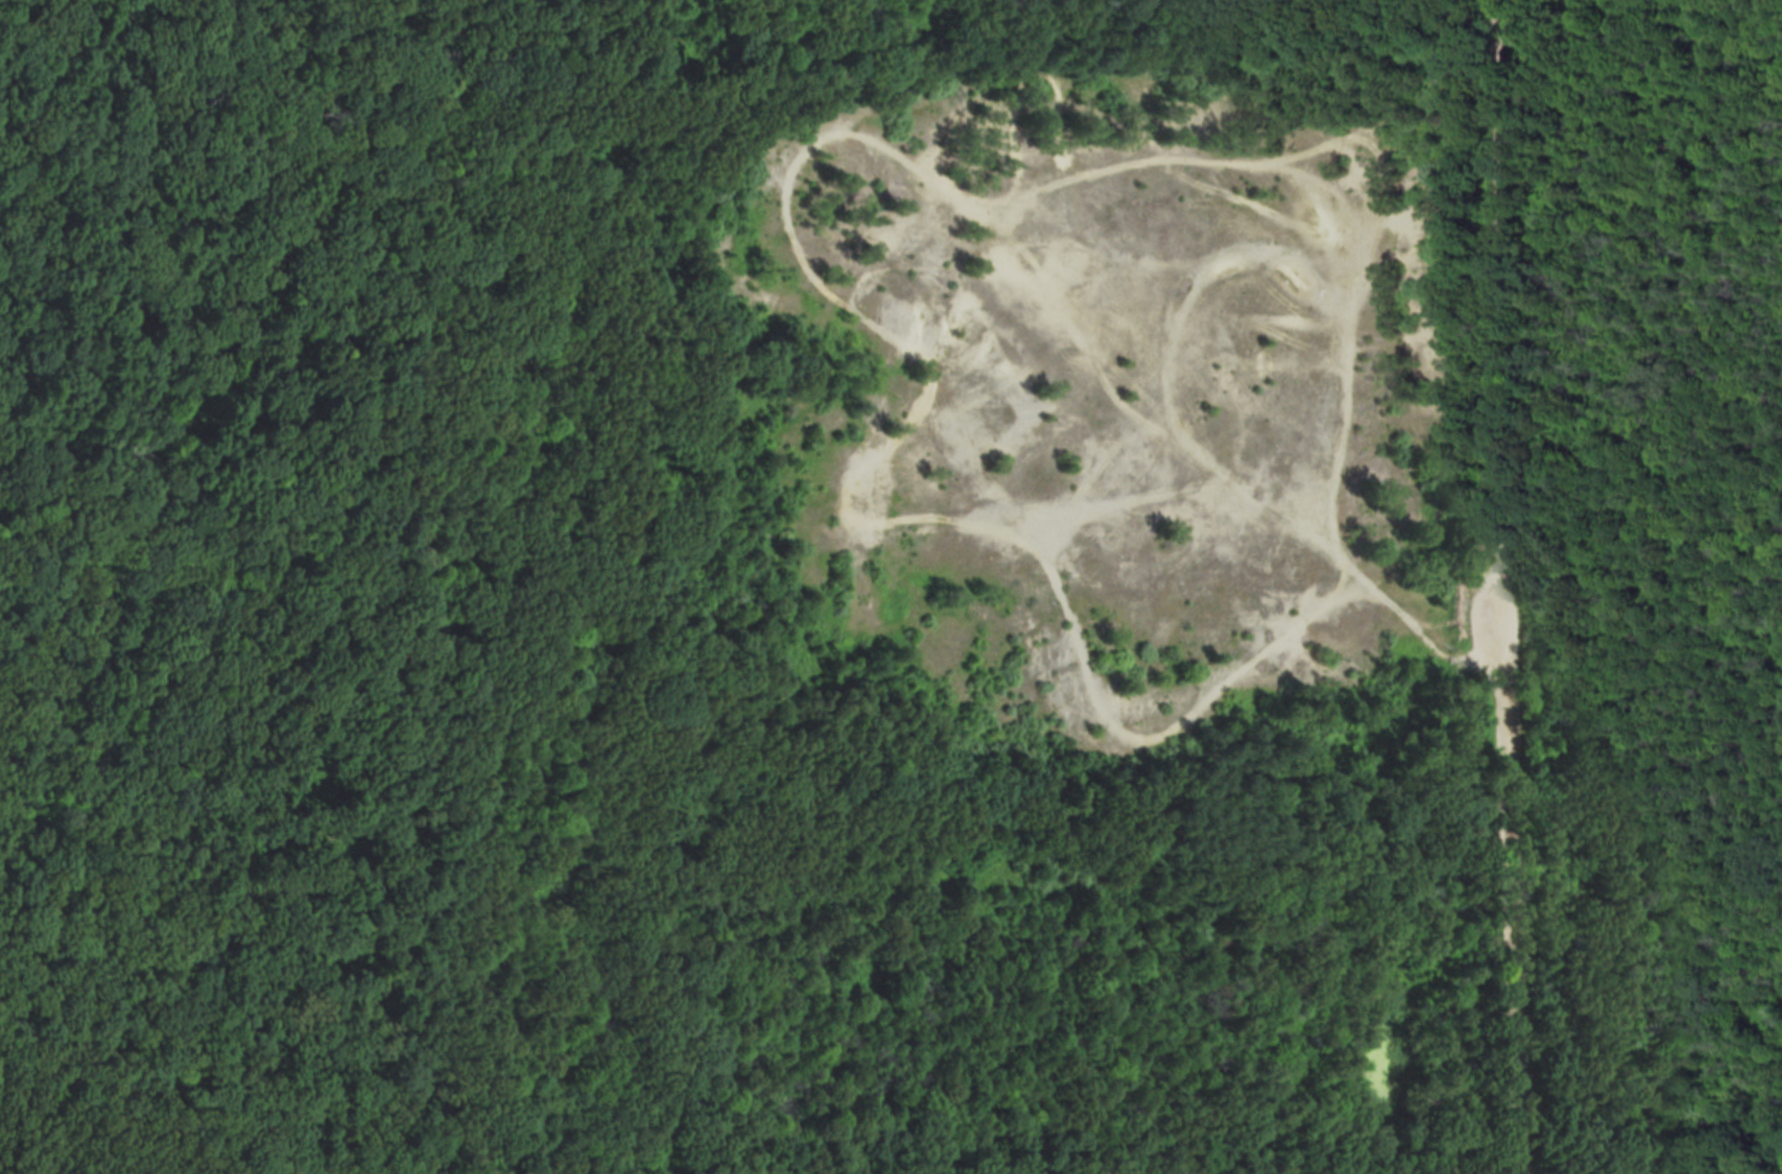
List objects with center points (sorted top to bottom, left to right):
road: (1221, 150)
road: (832, 266)
road: (1191, 272)
road: (1495, 283)
quarry: (1100, 388)
park: (885, 582)
road: (449, 867)
road: (1512, 869)
road: (118, 1151)

